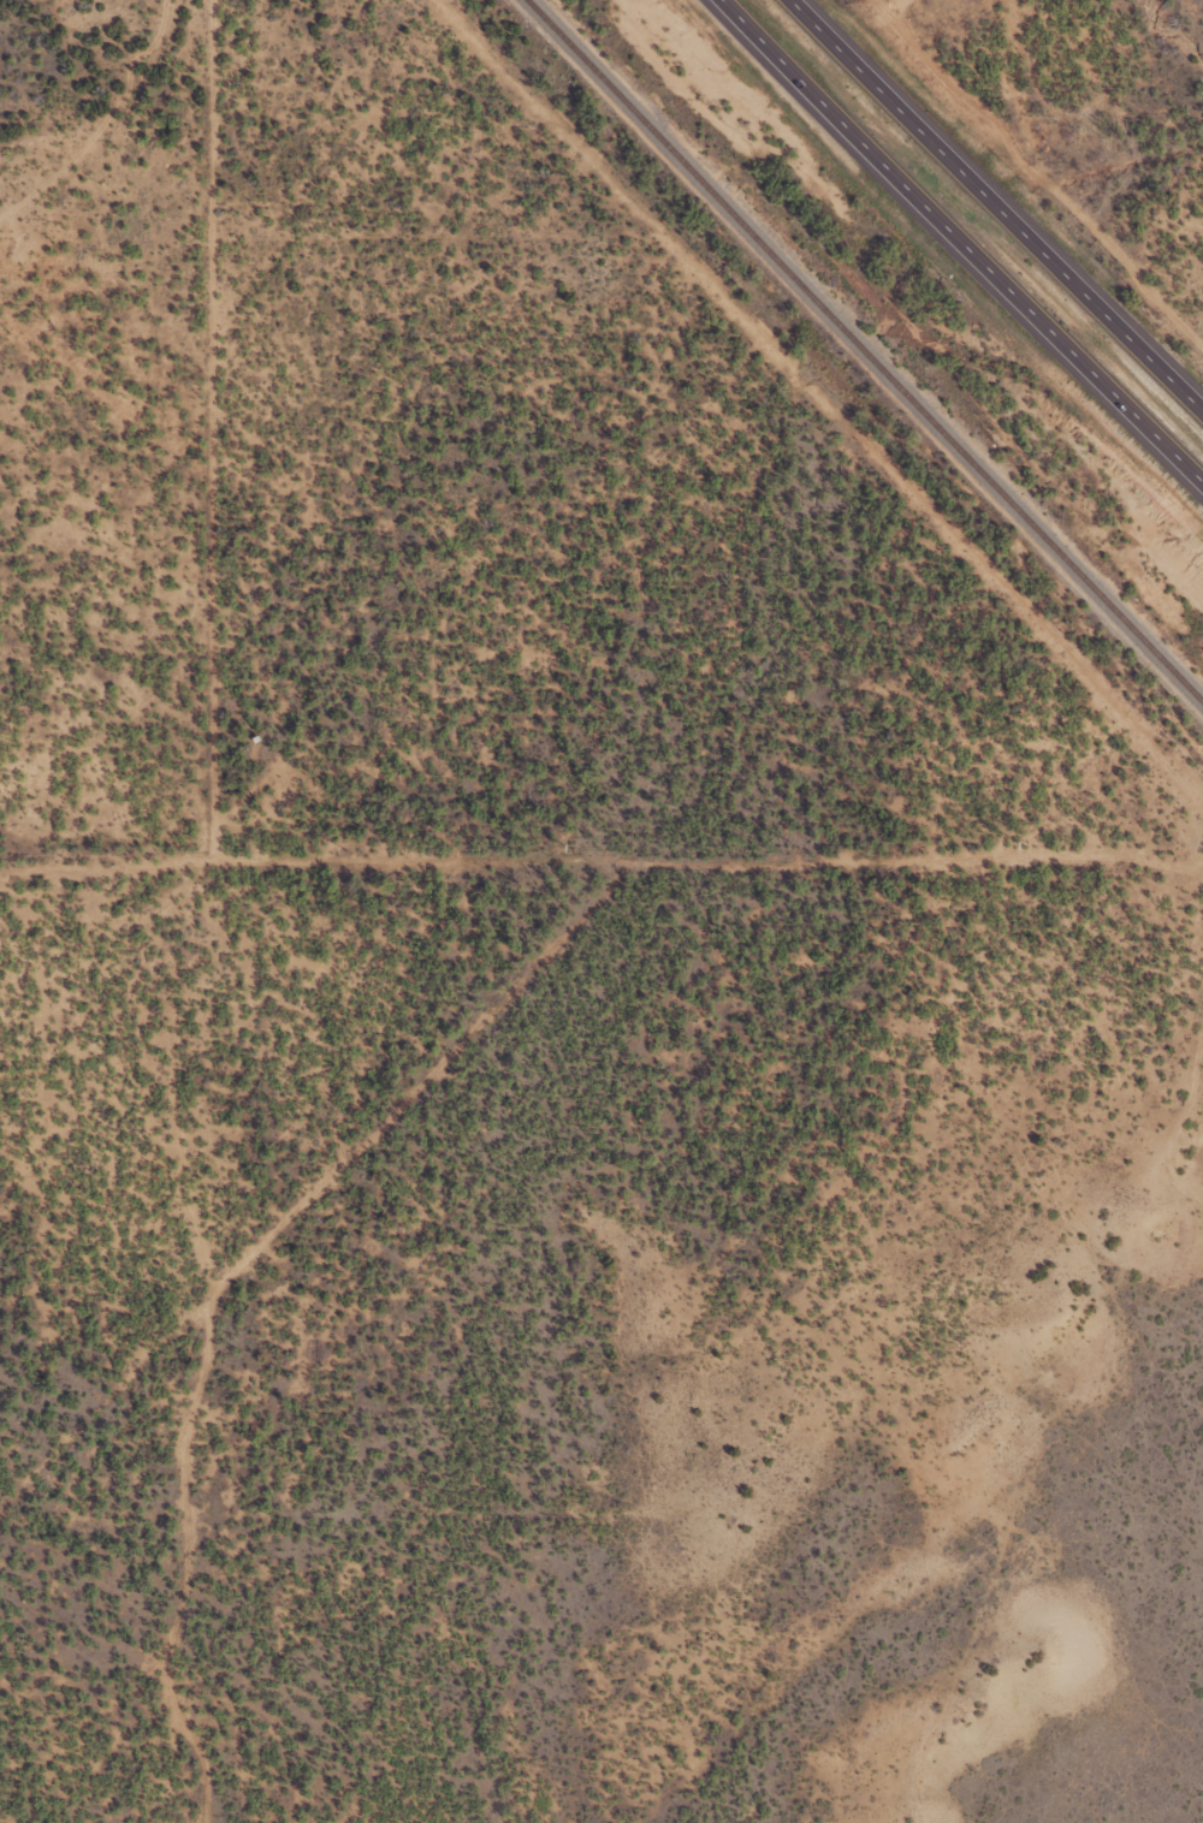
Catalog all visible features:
road: (998, 204)
road: (965, 238)
railway: (864, 355)

